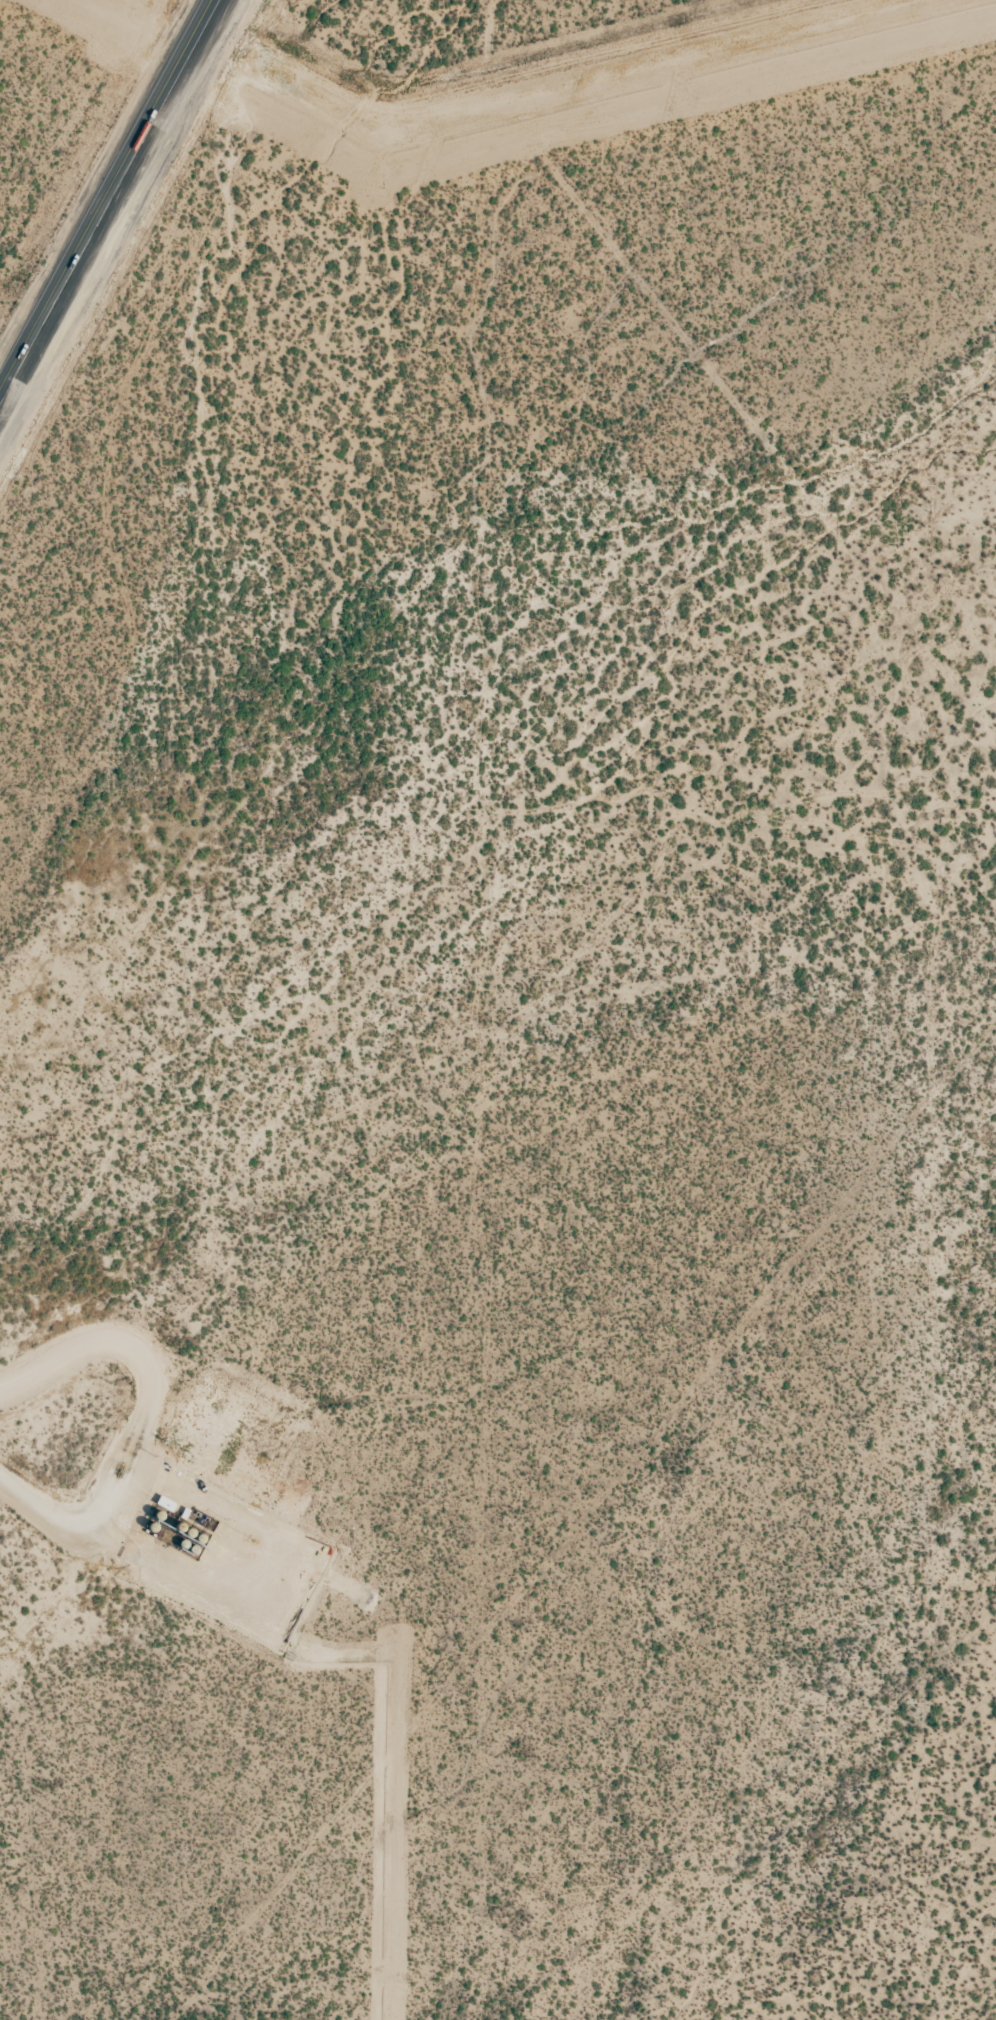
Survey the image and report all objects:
road: (108, 200)

